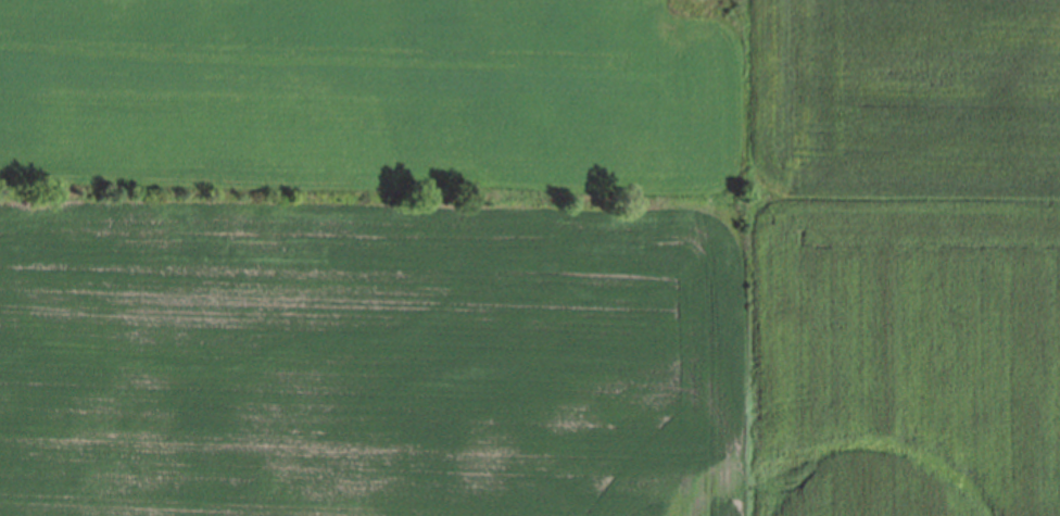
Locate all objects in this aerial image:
crop: (906, 100)

